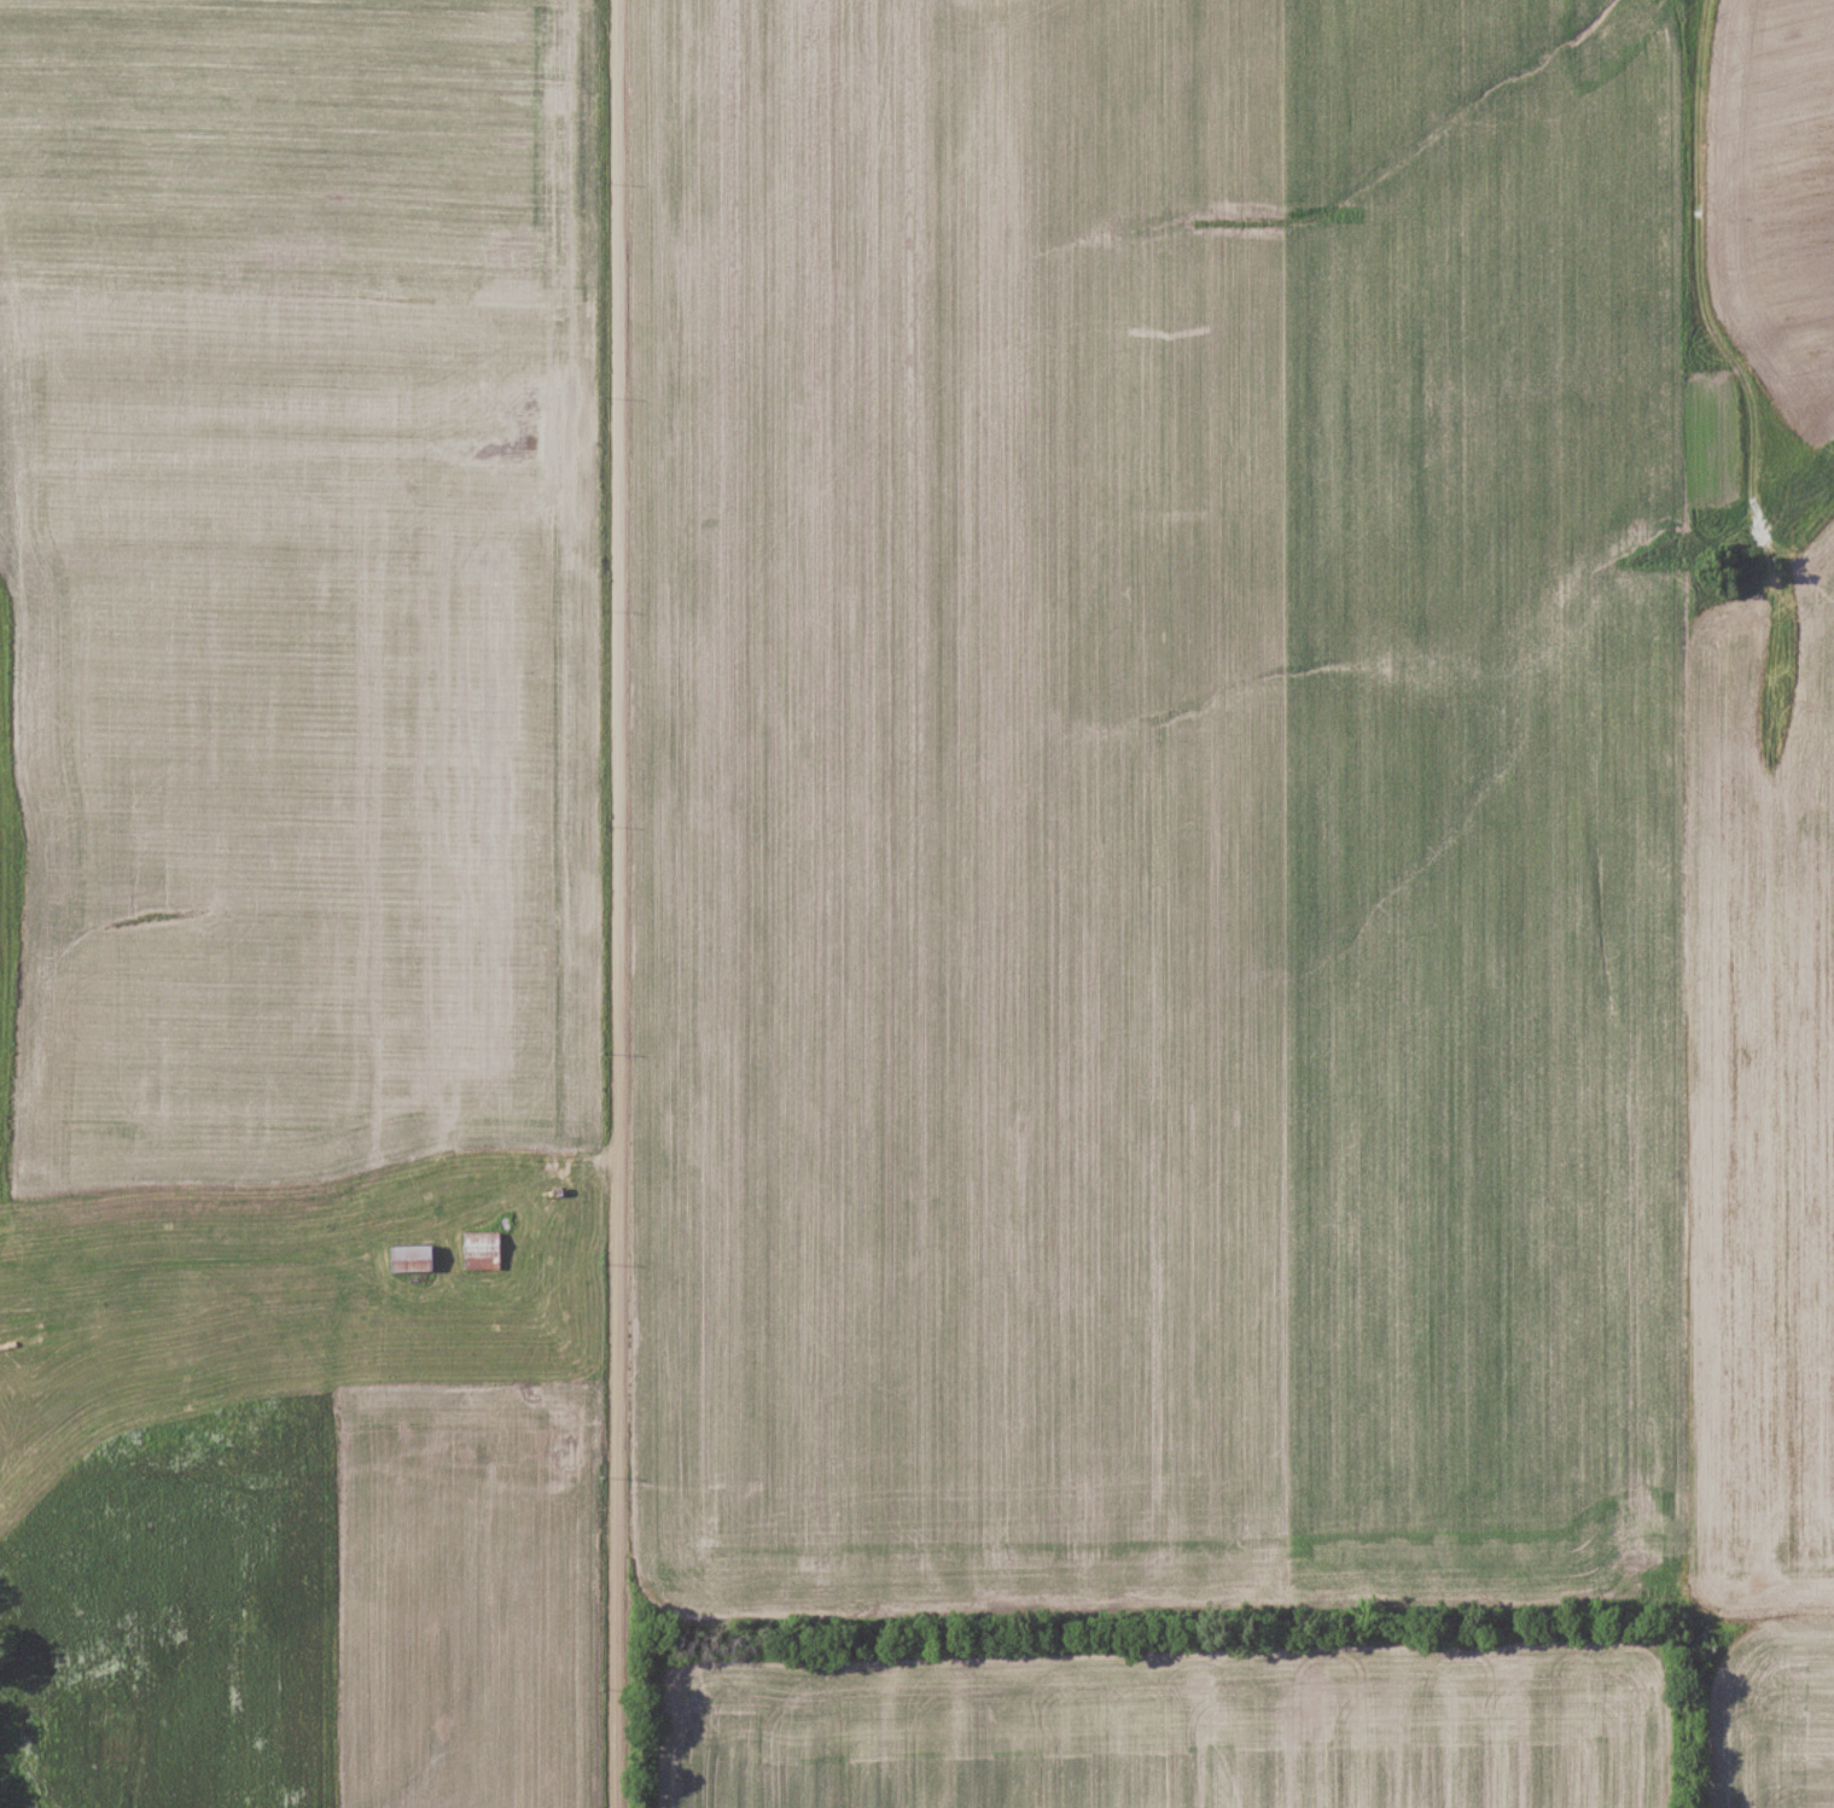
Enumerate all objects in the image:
road: (618, 904)
building: (478, 1250)
building: (408, 1258)

